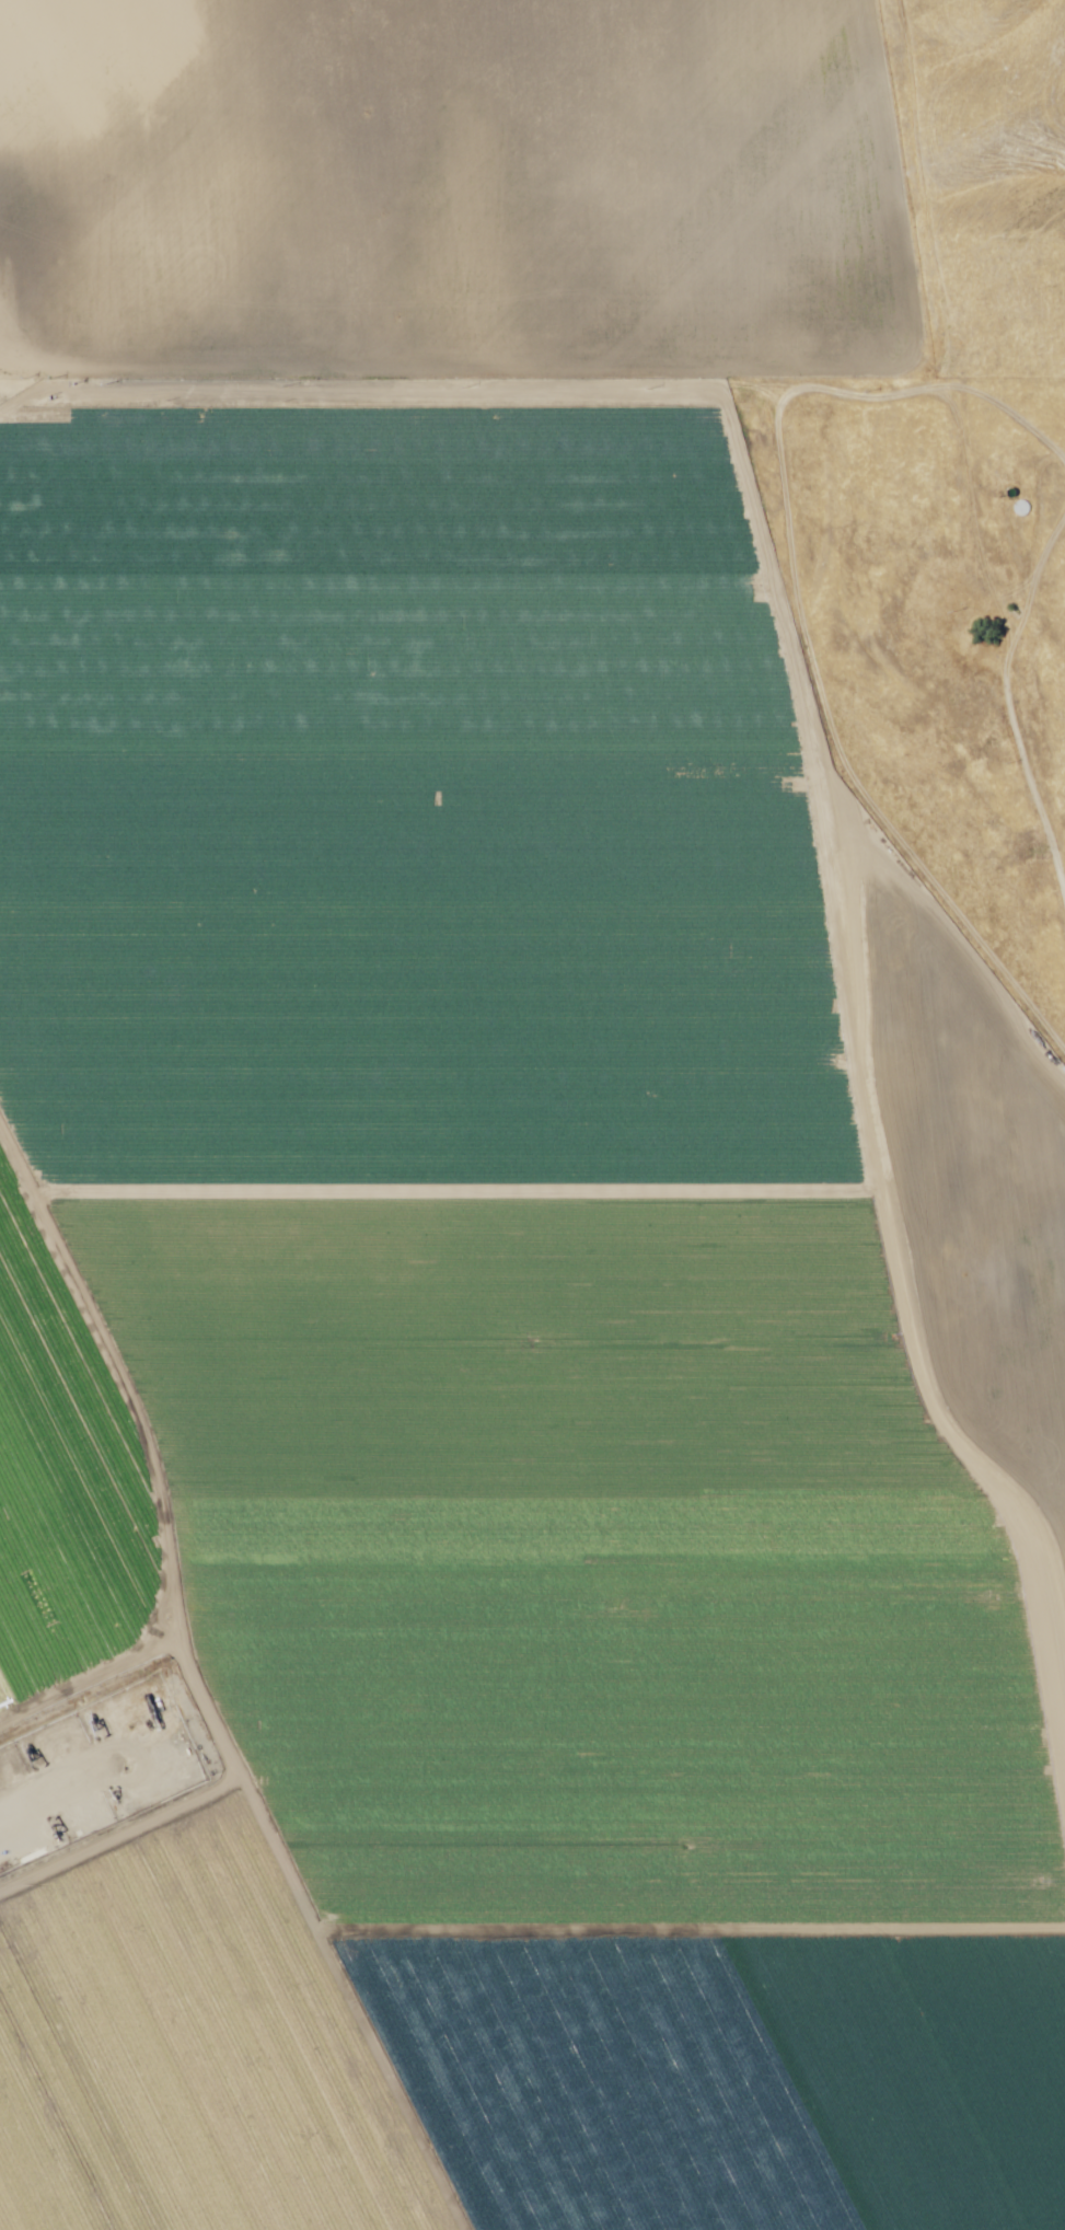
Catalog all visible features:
road: (1008, 374)
crop: (460, 1183)

